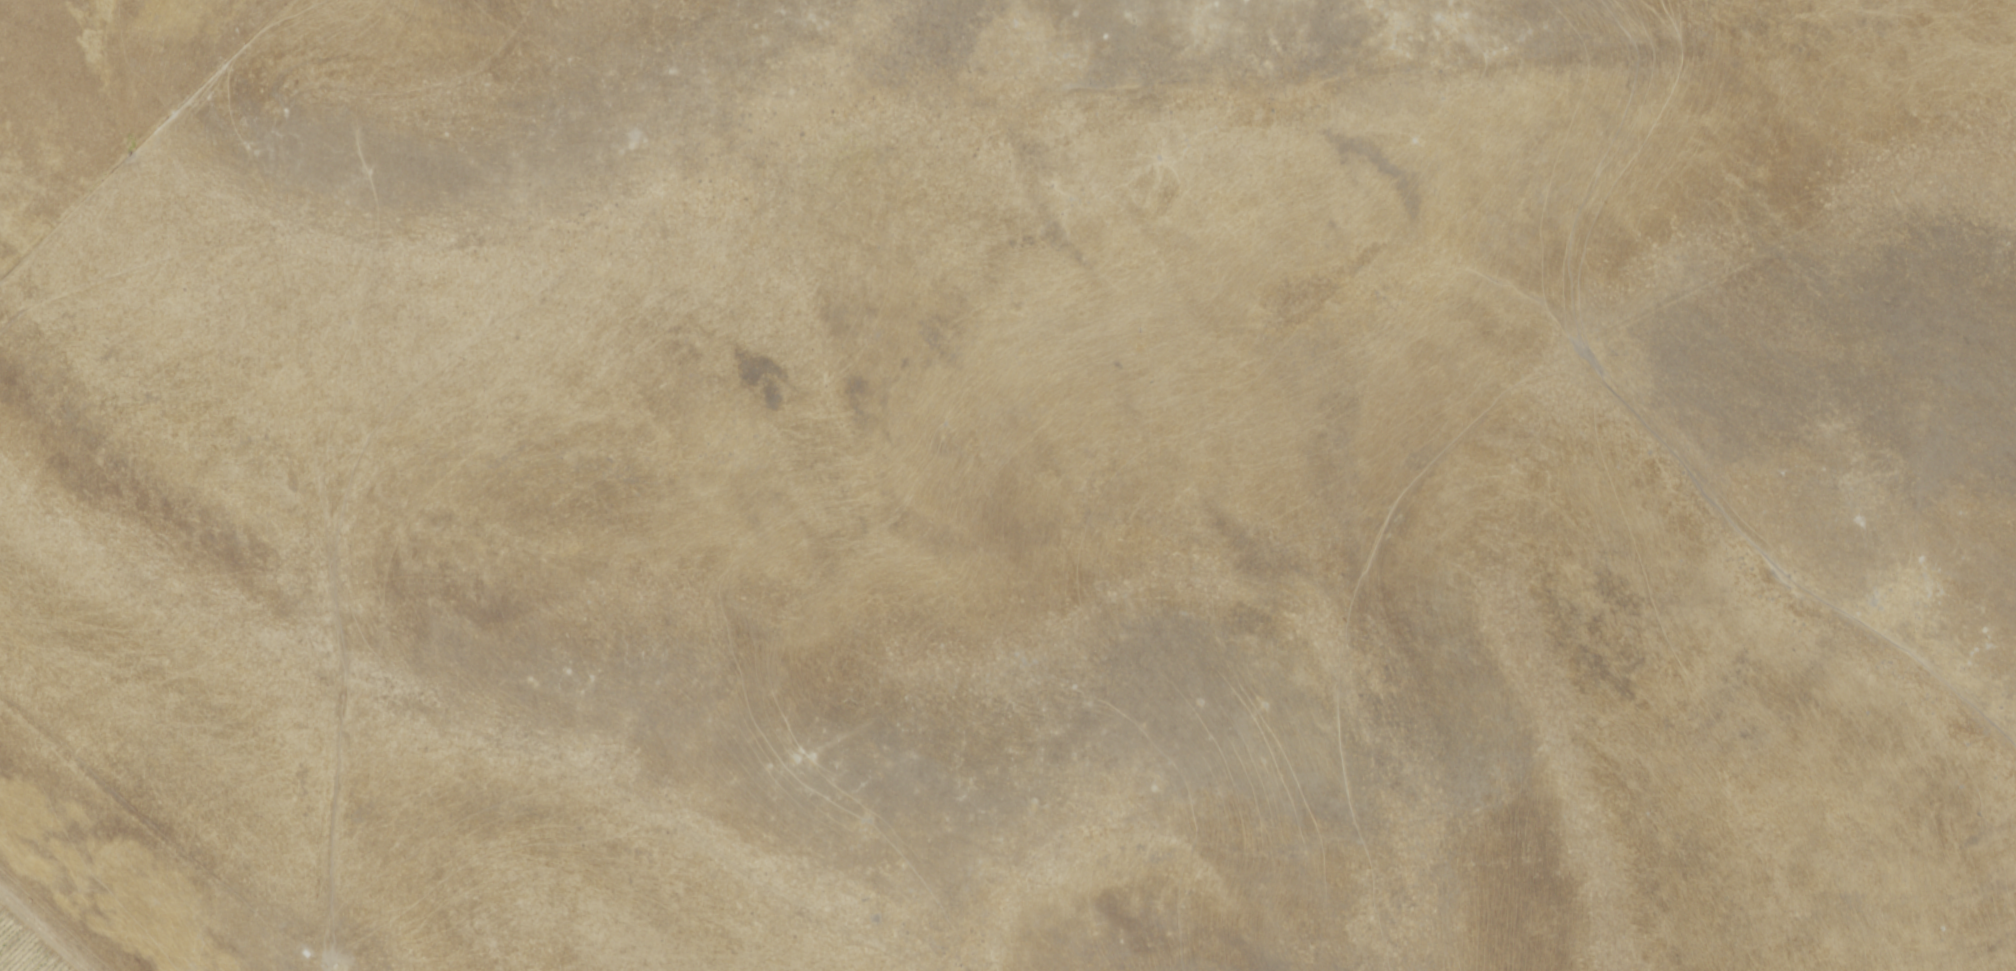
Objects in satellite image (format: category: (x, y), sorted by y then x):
road: (1562, 399)
crop: (36, 940)
crop: (36, 940)

